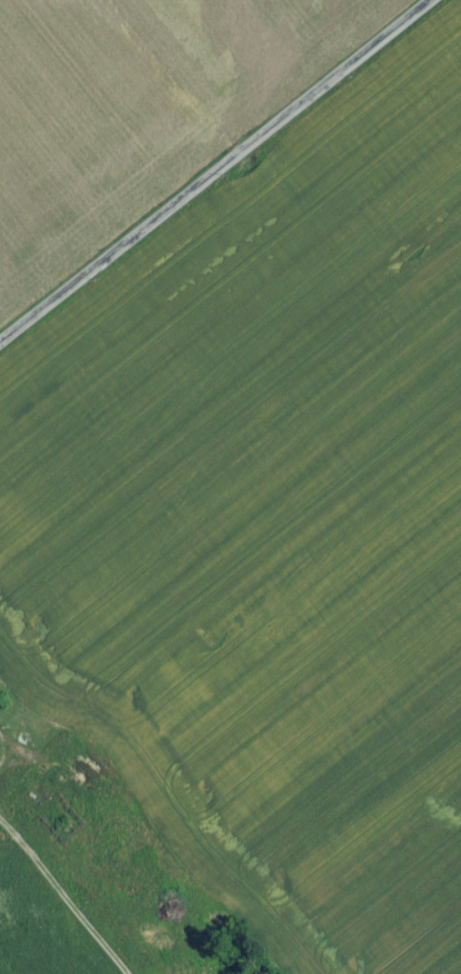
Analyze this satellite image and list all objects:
road: (219, 176)
road: (104, 491)
road: (2, 753)

